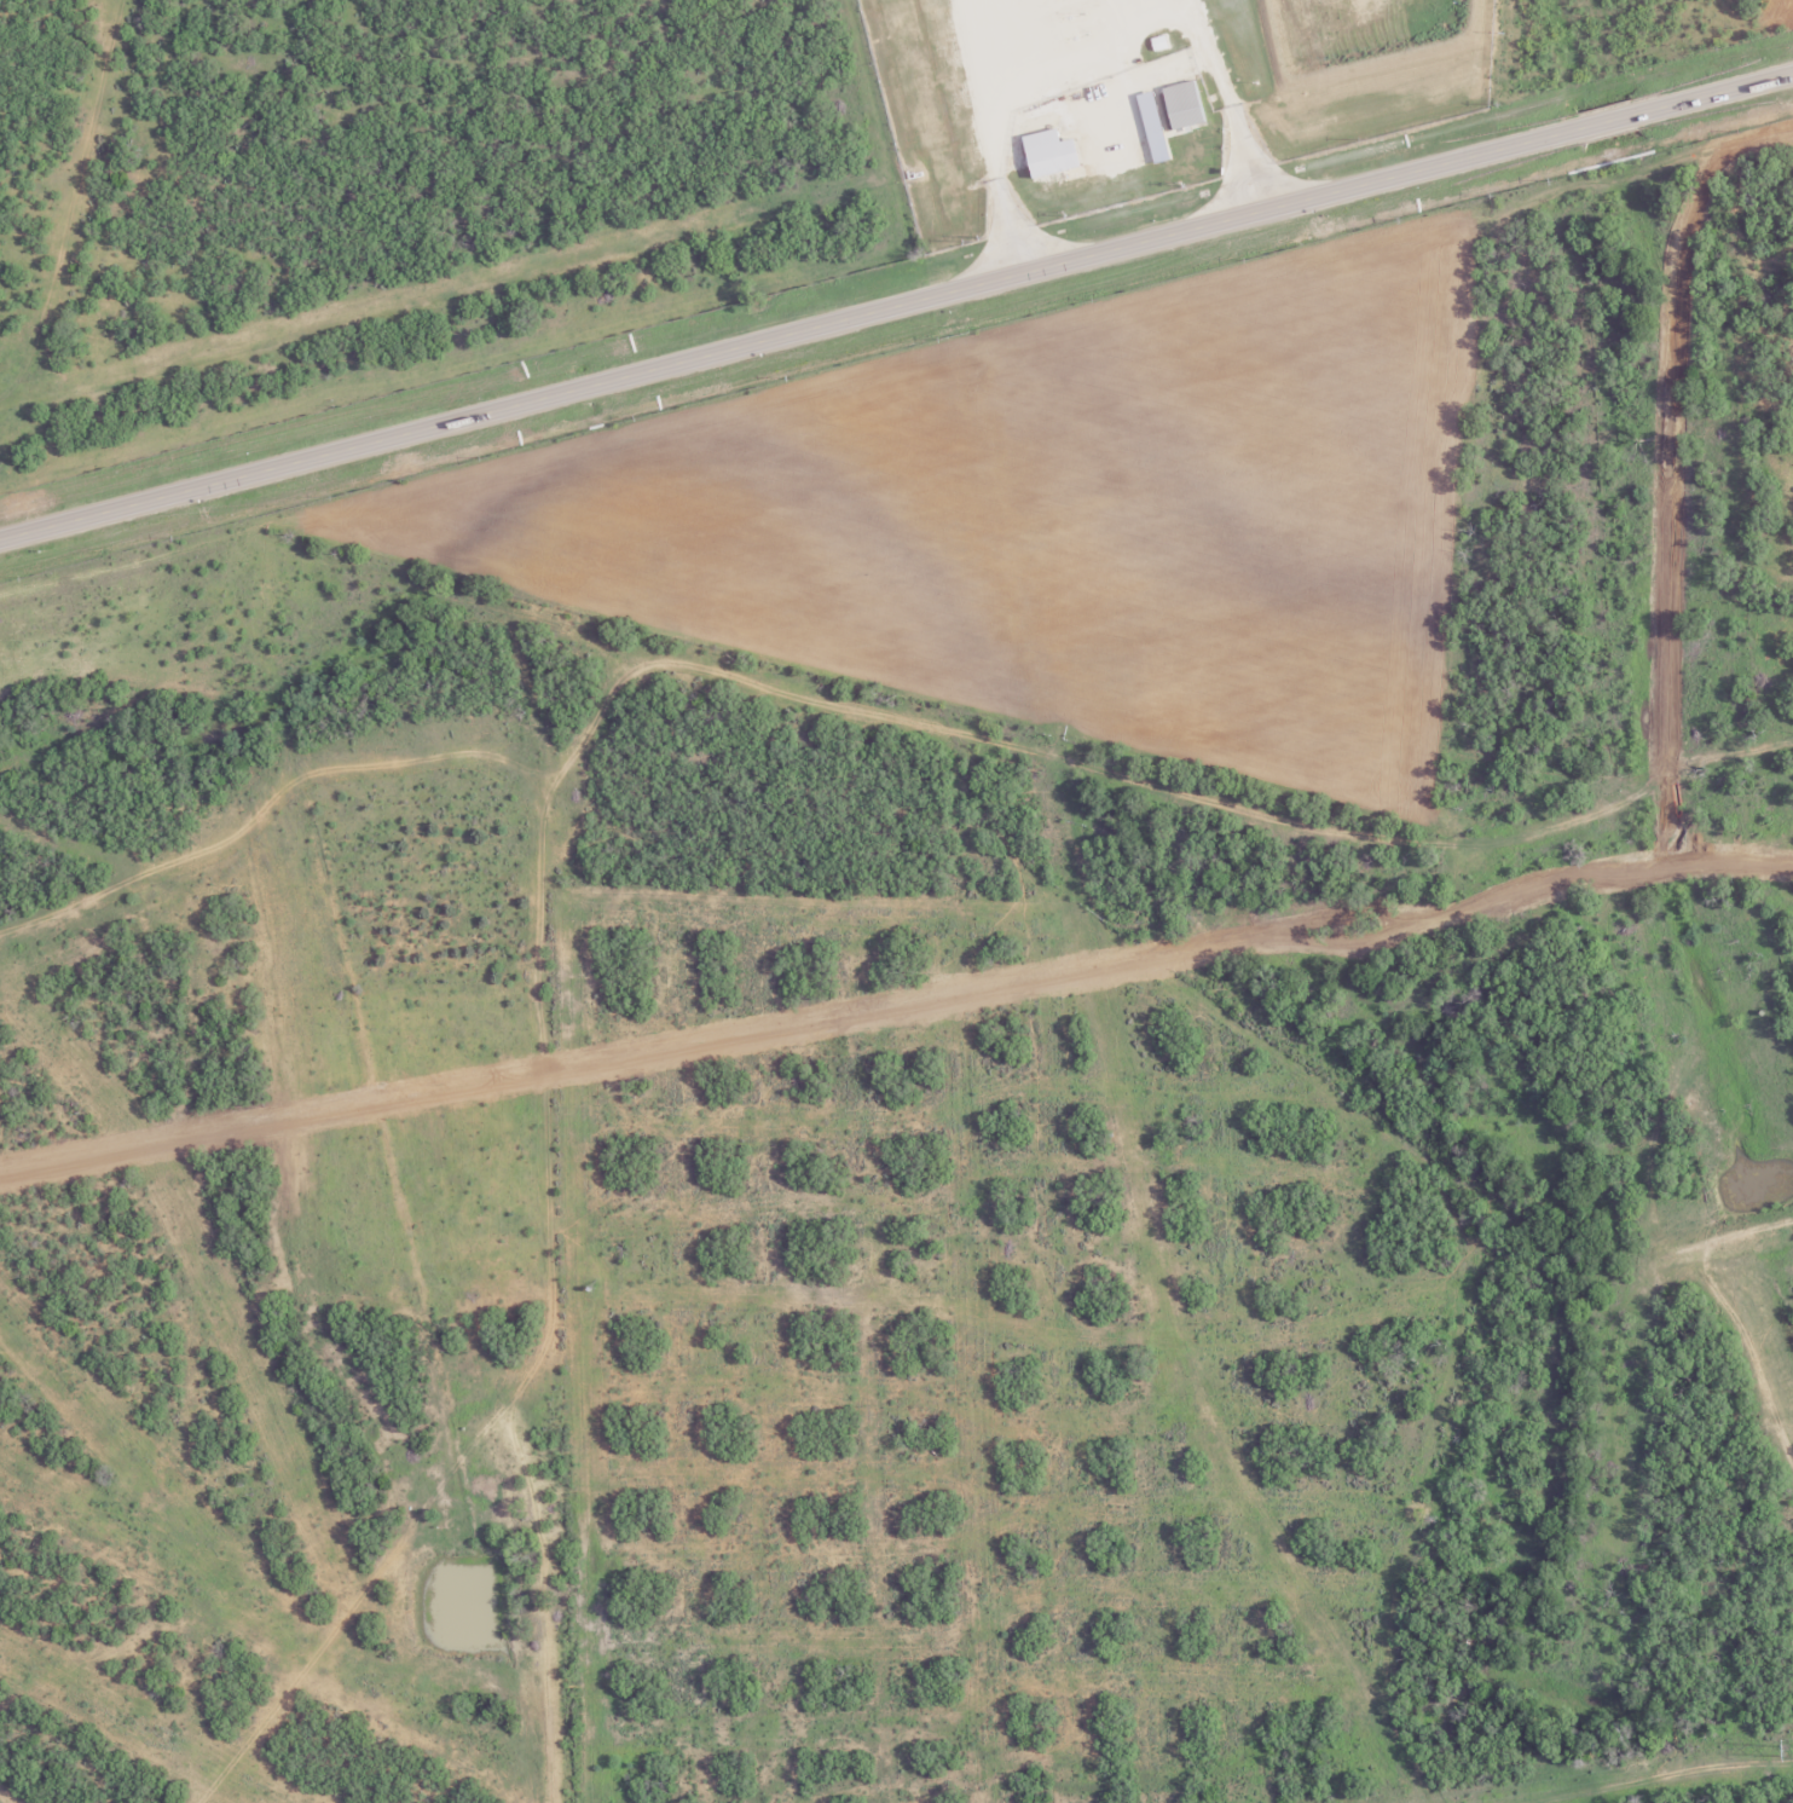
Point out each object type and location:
building: (1179, 105)
road: (896, 305)
power tower: (1787, 1753)

